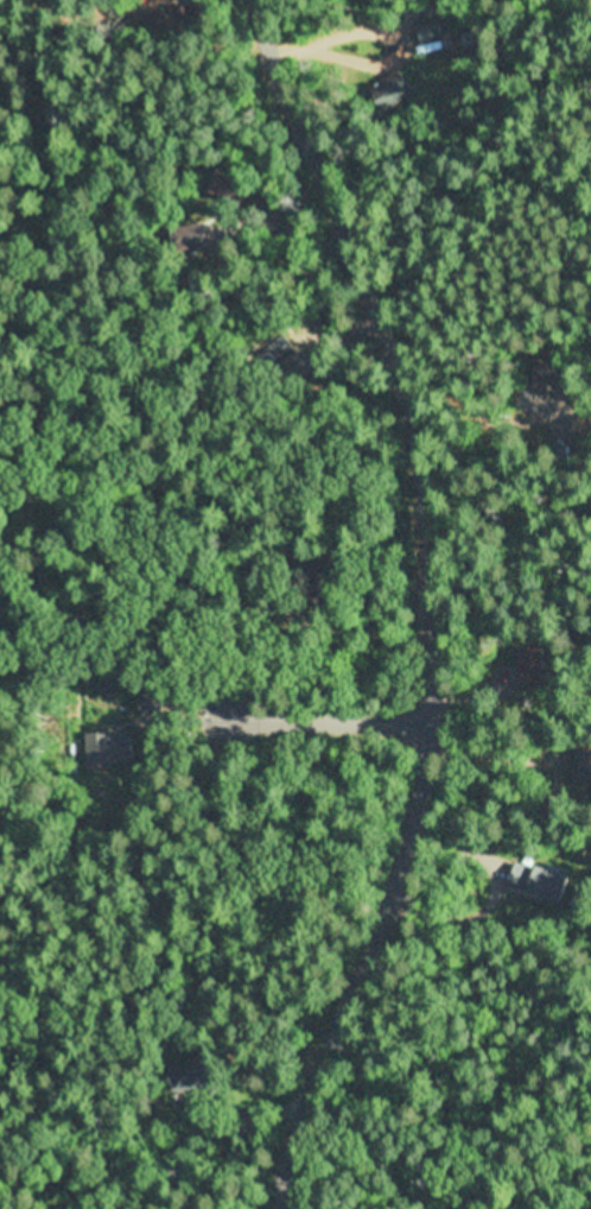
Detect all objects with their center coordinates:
building: (173, 15)
building: (395, 89)
building: (227, 186)
building: (189, 240)
building: (196, 283)
building: (258, 352)
building: (285, 361)
building: (554, 371)
building: (323, 582)
road: (432, 584)
building: (271, 603)
building: (533, 662)
building: (510, 666)
building: (151, 701)
road: (272, 726)
building: (109, 749)
building: (583, 762)
building: (572, 766)
building: (553, 803)
building: (540, 882)
building: (201, 1077)
building: (227, 1129)
road: (279, 1191)

